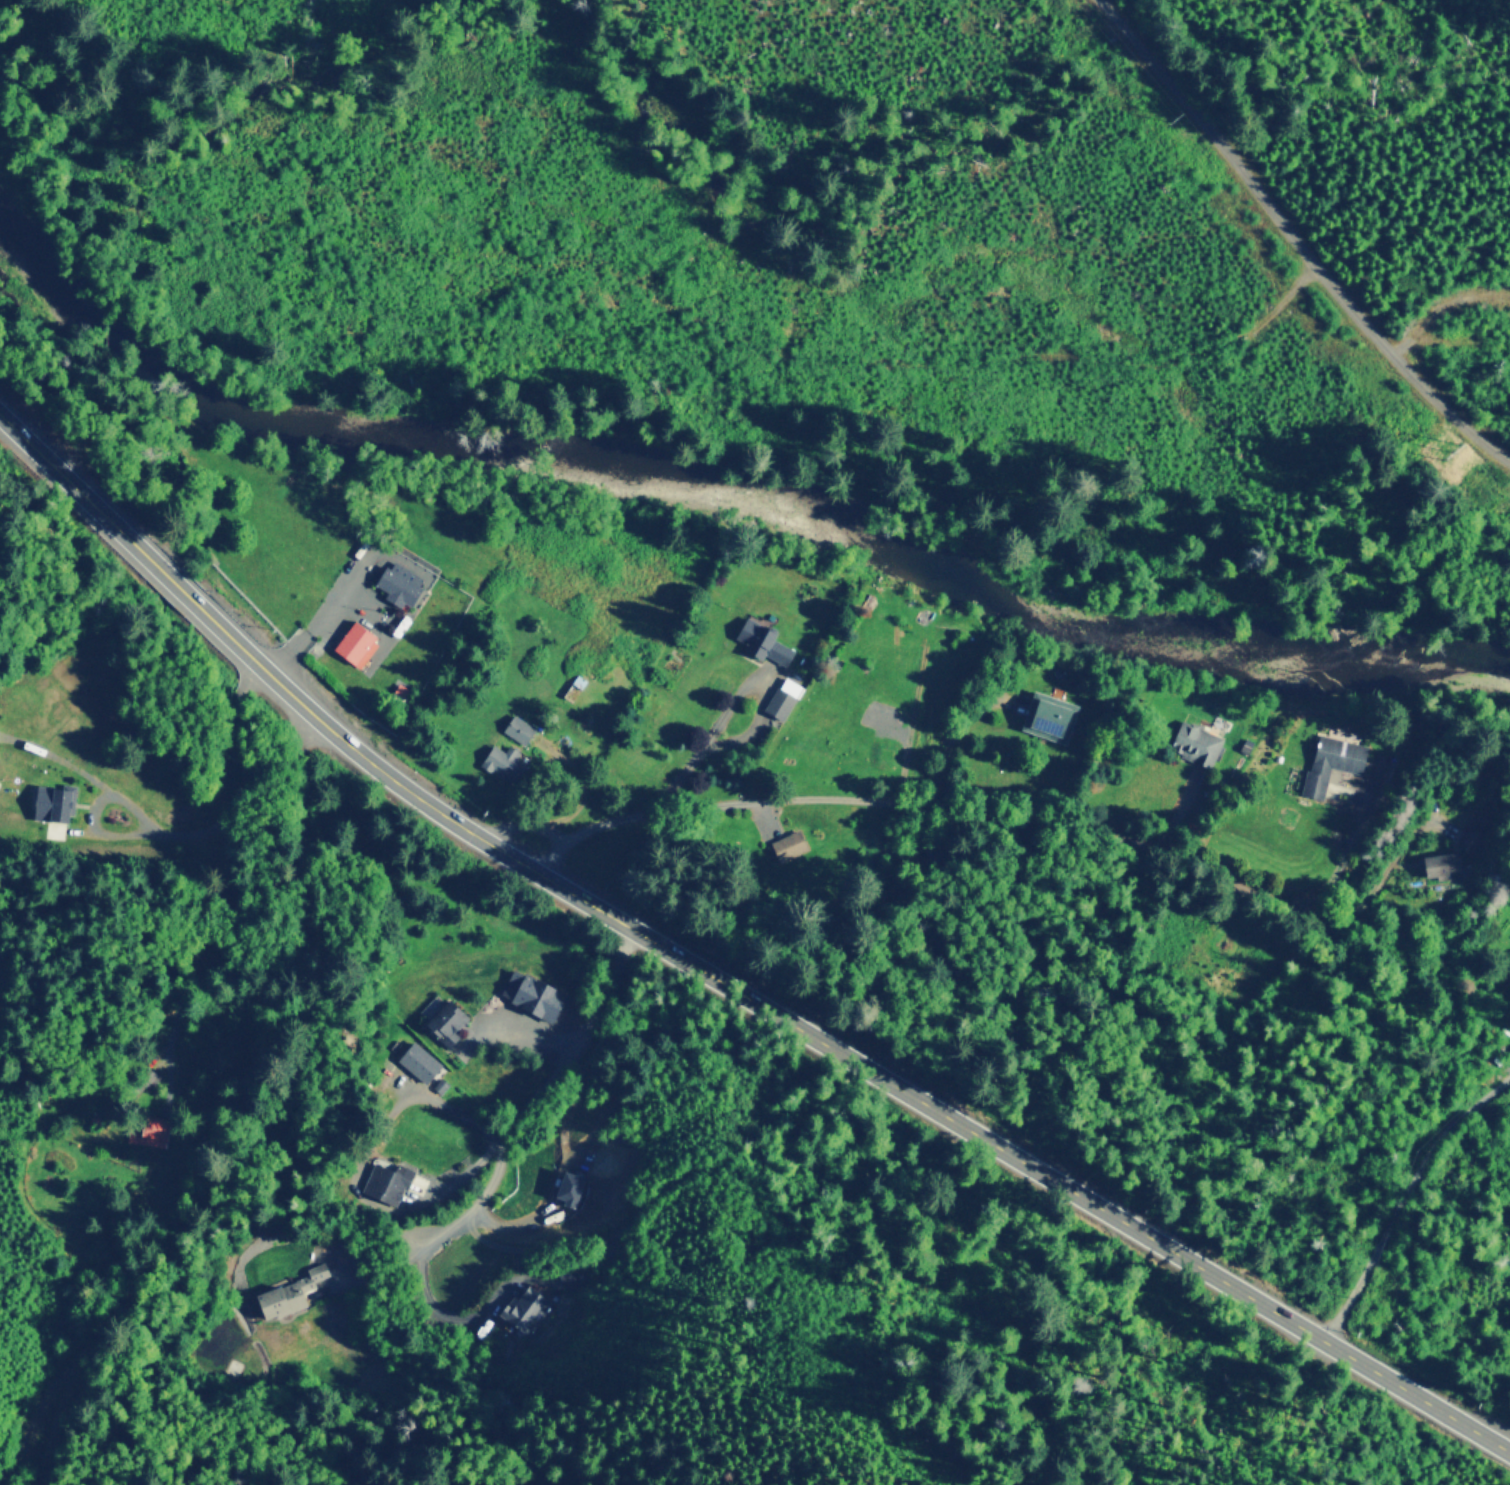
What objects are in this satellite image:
road: (1302, 231)
river: (738, 465)
building: (400, 584)
road: (324, 620)
building: (354, 641)
building: (762, 641)
building: (782, 697)
building: (1047, 714)
building: (518, 728)
building: (1197, 743)
building: (1331, 761)
building: (503, 762)
building: (51, 802)
road: (1010, 819)
building: (788, 844)
building: (1443, 865)
road: (720, 978)
building: (530, 994)
building: (448, 1020)
building: (419, 1061)
road: (222, 1117)
road: (497, 1155)
building: (386, 1182)
building: (568, 1187)
road: (434, 1196)
road: (1401, 1198)
building: (291, 1291)
building: (524, 1308)
road: (37, 1454)

